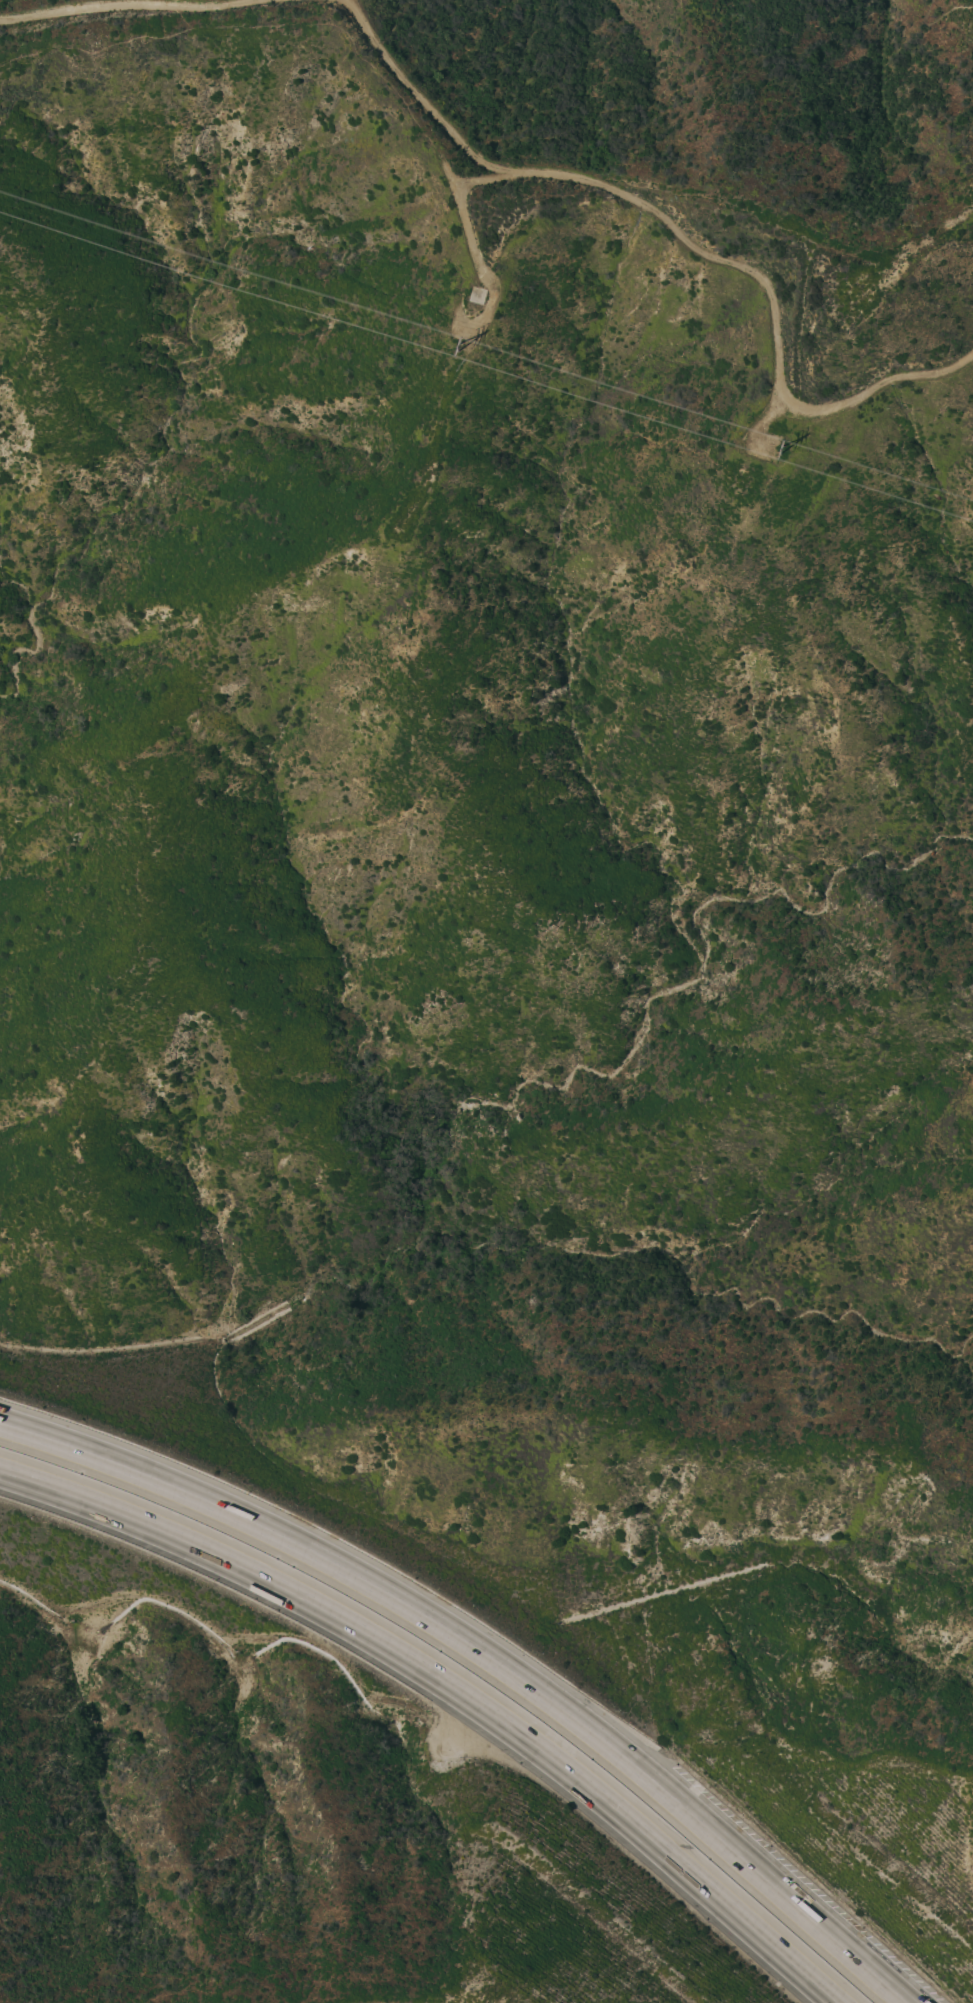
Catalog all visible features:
road: (124, 3)
road: (935, 19)
road: (245, 28)
road: (972, 77)
road: (967, 130)
road: (449, 177)
road: (796, 225)
road: (676, 233)
road: (468, 239)
road: (800, 326)
power tower: (459, 354)
road: (759, 426)
power tower: (784, 457)
road: (487, 1658)
road: (447, 1689)

